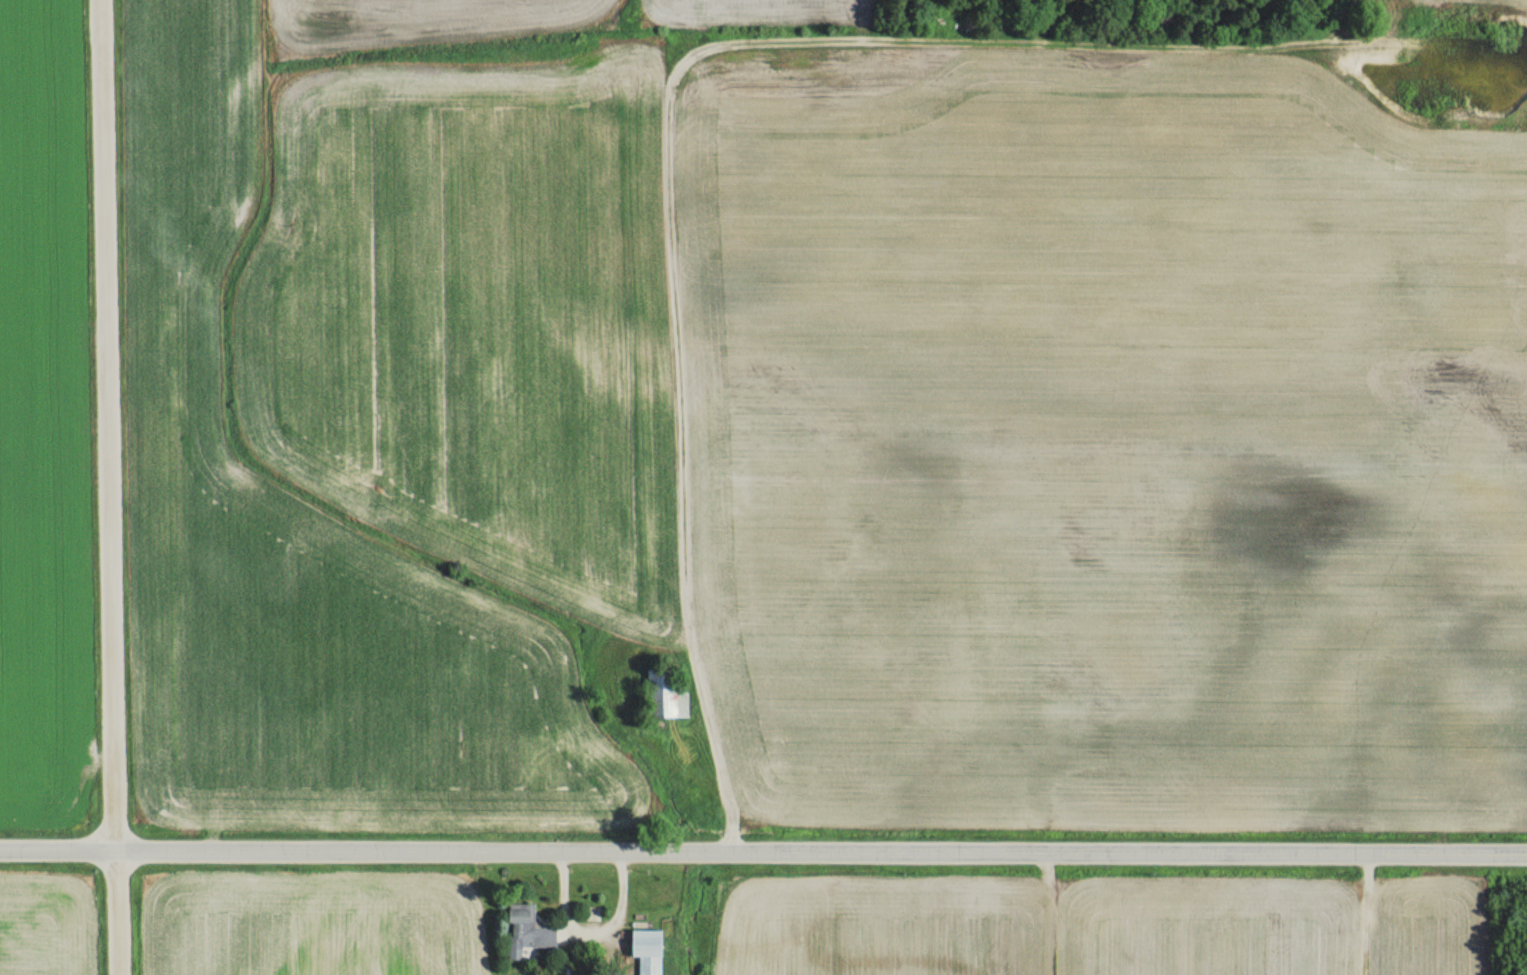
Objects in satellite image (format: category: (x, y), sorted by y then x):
road: (110, 424)
building: (664, 695)
road: (763, 838)
road: (118, 911)
building: (516, 916)
building: (536, 936)
building: (645, 950)

